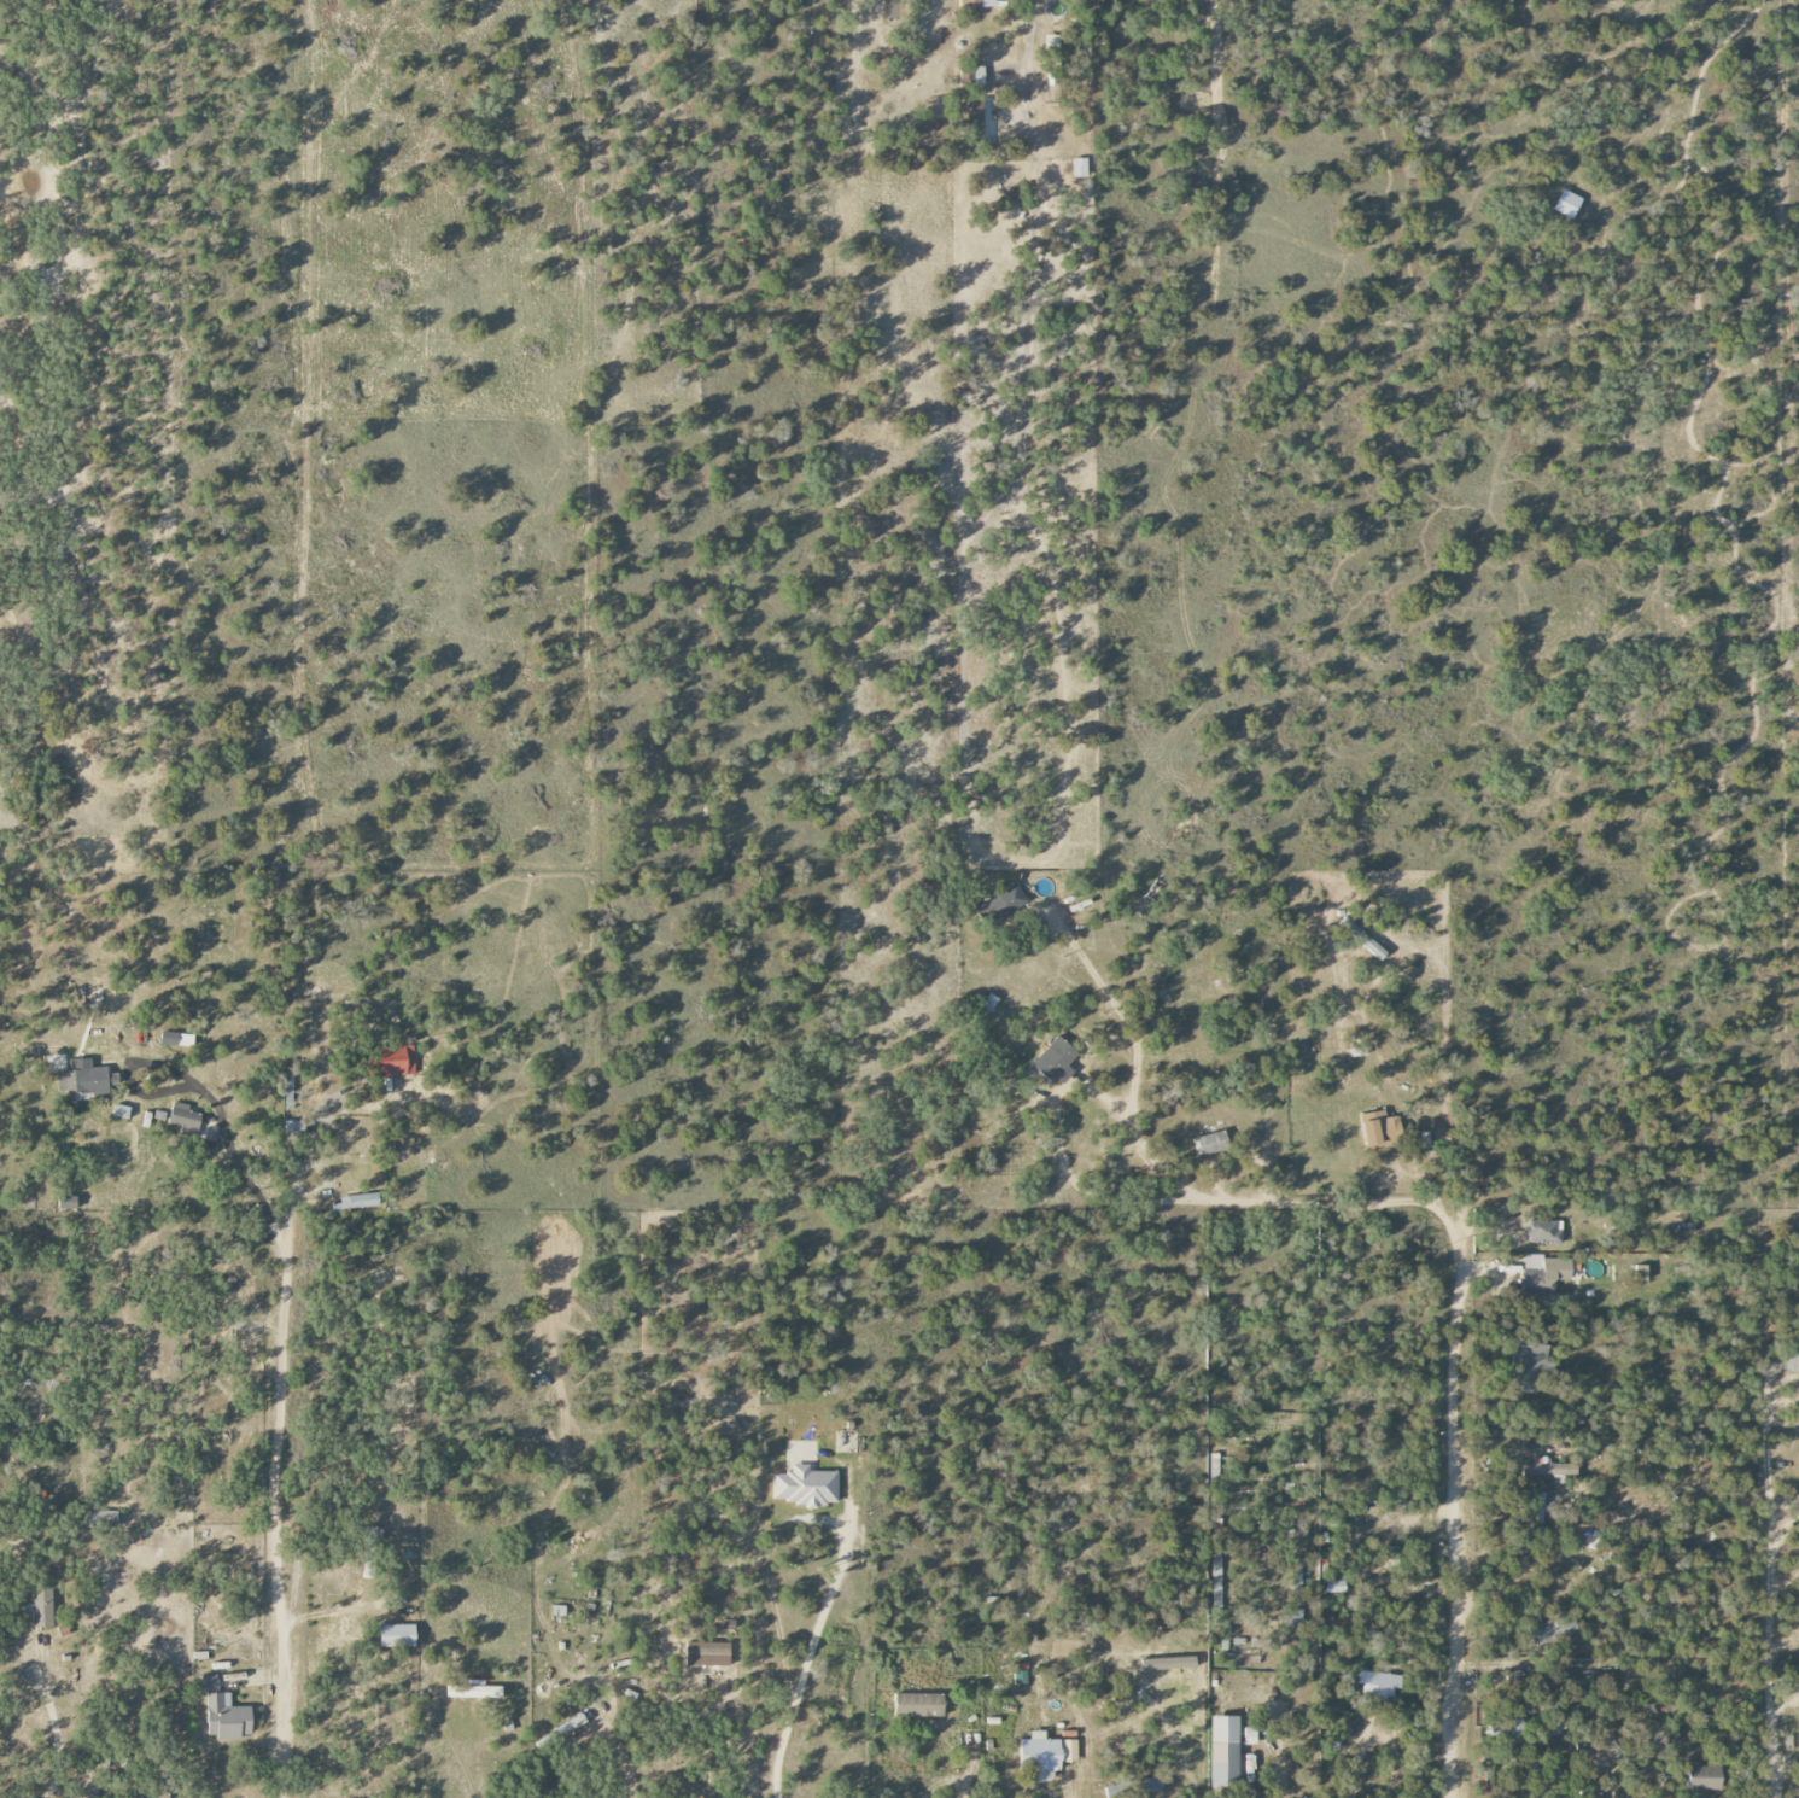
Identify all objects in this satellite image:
building: (976, 4)
building: (1051, 42)
road: (1020, 74)
building: (979, 122)
building: (1079, 168)
building: (1004, 903)
road: (1269, 991)
building: (176, 1039)
building: (1357, 1051)
building: (1055, 1059)
building: (392, 1061)
road: (1129, 1075)
building: (86, 1081)
building: (121, 1111)
building: (183, 1117)
building: (1379, 1128)
road: (1050, 1129)
building: (1211, 1143)
road: (1223, 1158)
building: (355, 1202)
building: (66, 1203)
building: (1544, 1232)
road: (285, 1269)
building: (1544, 1273)
building: (1640, 1273)
road: (1456, 1321)
building: (1791, 1354)
building: (1525, 1366)
building: (1546, 1470)
building: (805, 1487)
road: (1764, 1584)
building: (1334, 1587)
building: (42, 1607)
building: (1290, 1624)
building: (1552, 1630)
building: (397, 1636)
building: (707, 1654)
road: (1114, 1657)
road: (807, 1659)
road: (279, 1676)
building: (1378, 1685)
building: (474, 1691)
building: (918, 1705)
building: (224, 1714)
building: (566, 1729)
building: (1507, 1732)
road: (57, 1734)
road: (448, 1746)
building: (1223, 1752)
building: (1044, 1755)
road: (623, 1756)
building: (1704, 1777)
road: (960, 1782)
building: (1132, 1787)
road: (1065, 1792)

